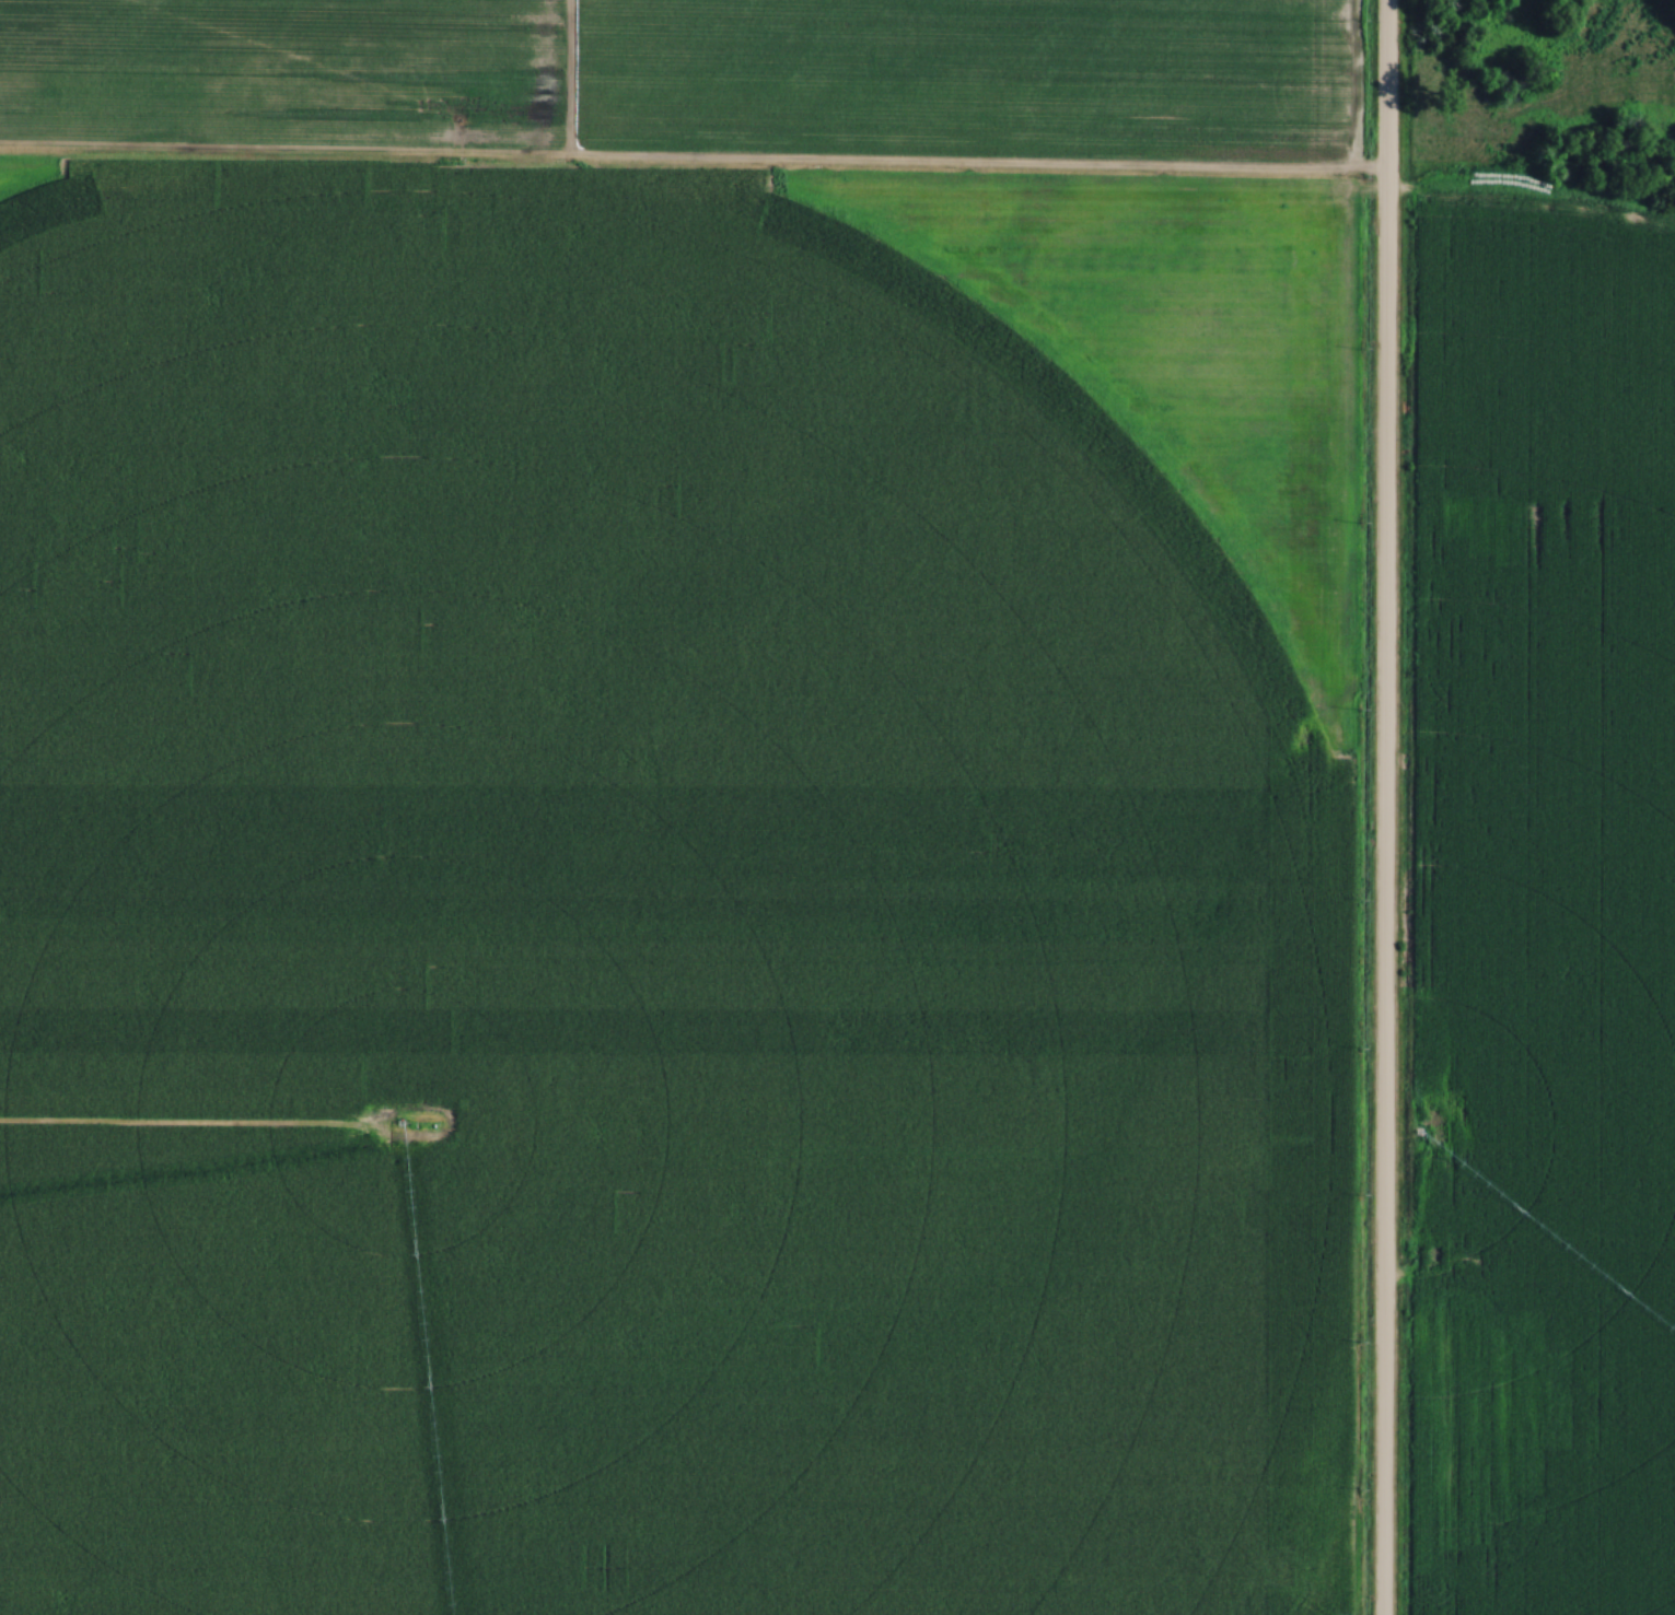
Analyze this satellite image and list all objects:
road: (1383, 807)

